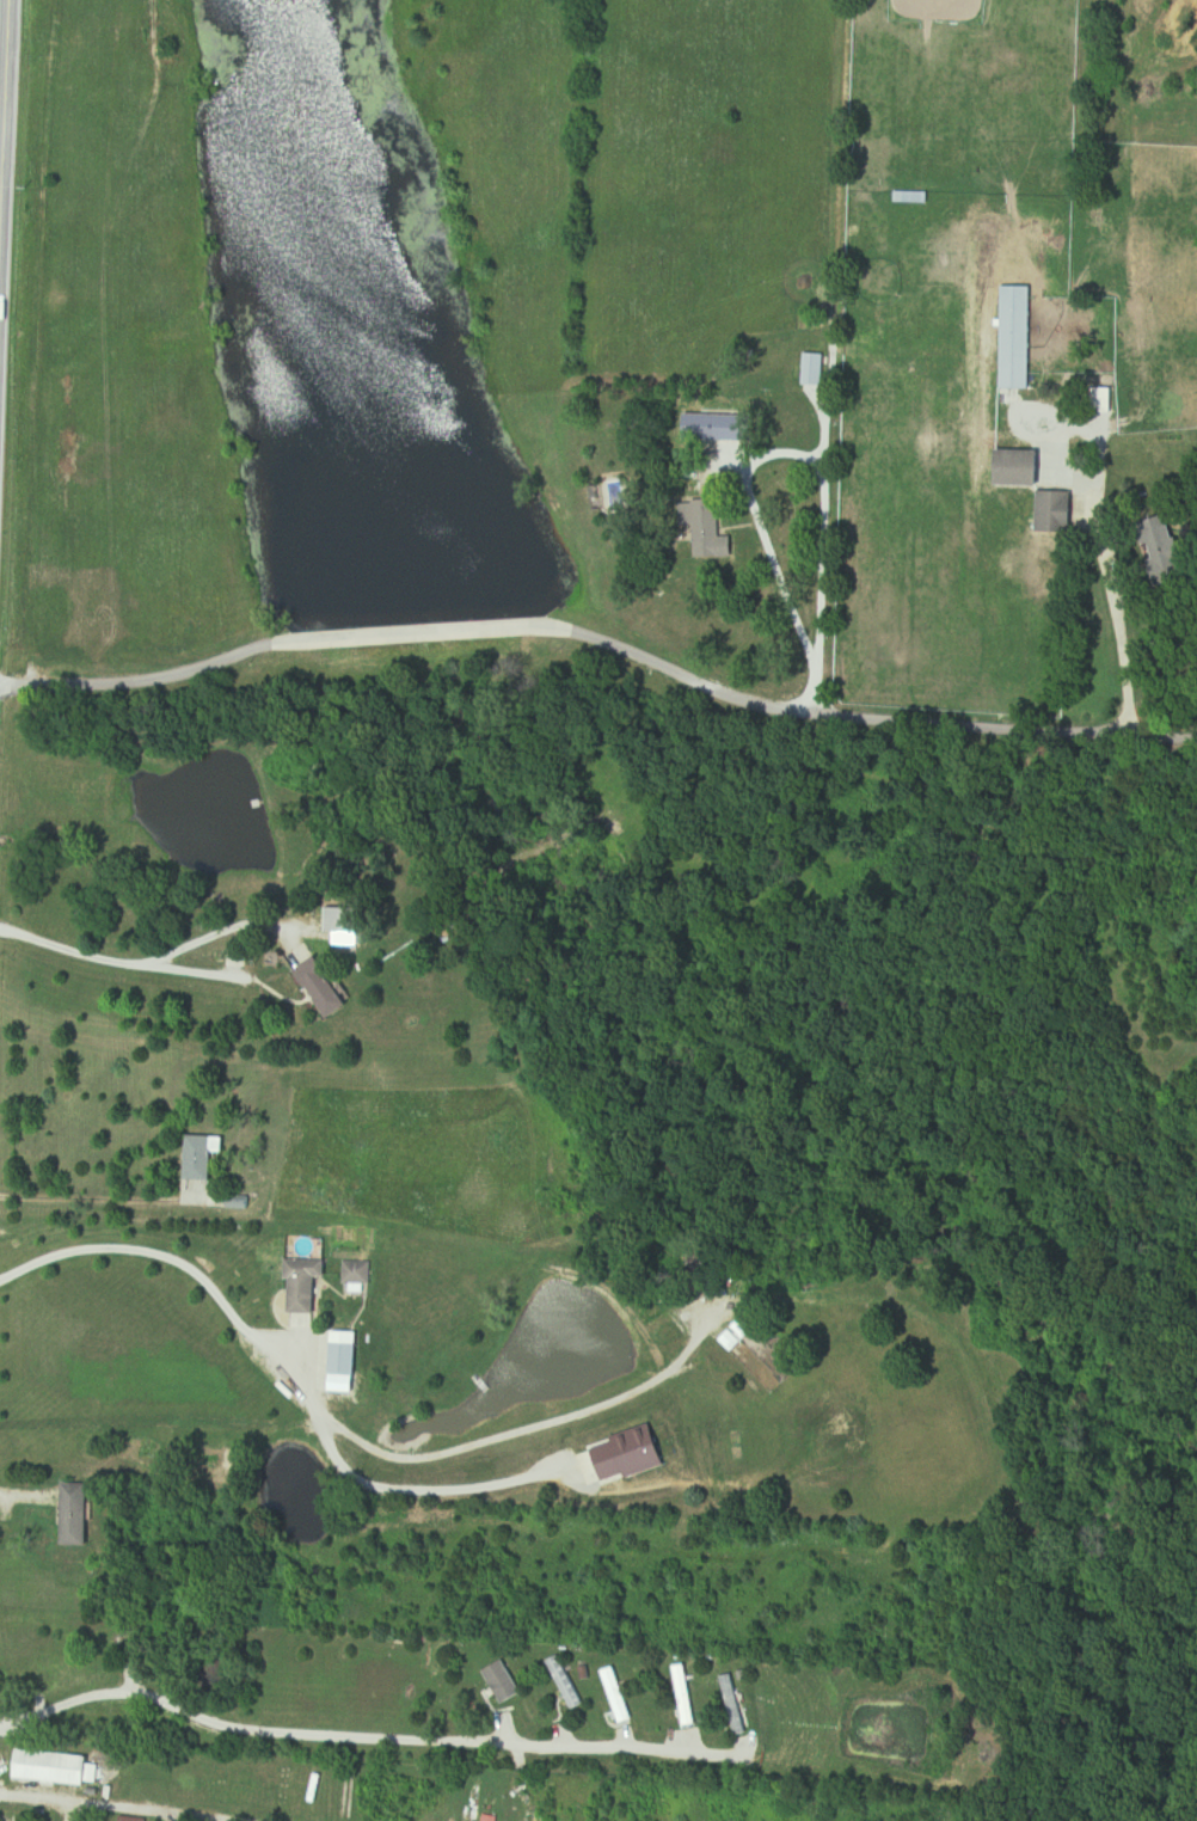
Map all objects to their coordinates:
road: (2, 76)
building: (913, 197)
building: (1008, 338)
building: (814, 369)
building: (720, 431)
building: (1008, 467)
road: (749, 477)
road: (1103, 492)
building: (1048, 511)
building: (707, 528)
road: (540, 632)
road: (815, 692)
road: (1132, 732)
building: (344, 920)
road: (73, 952)
road: (234, 952)
building: (324, 987)
building: (203, 1158)
building: (358, 1273)
building: (308, 1283)
building: (349, 1354)
road: (276, 1367)
road: (508, 1434)
building: (80, 1515)
building: (505, 1682)
building: (567, 1684)
building: (619, 1696)
building: (733, 1705)
road: (360, 1737)
building: (55, 1768)

